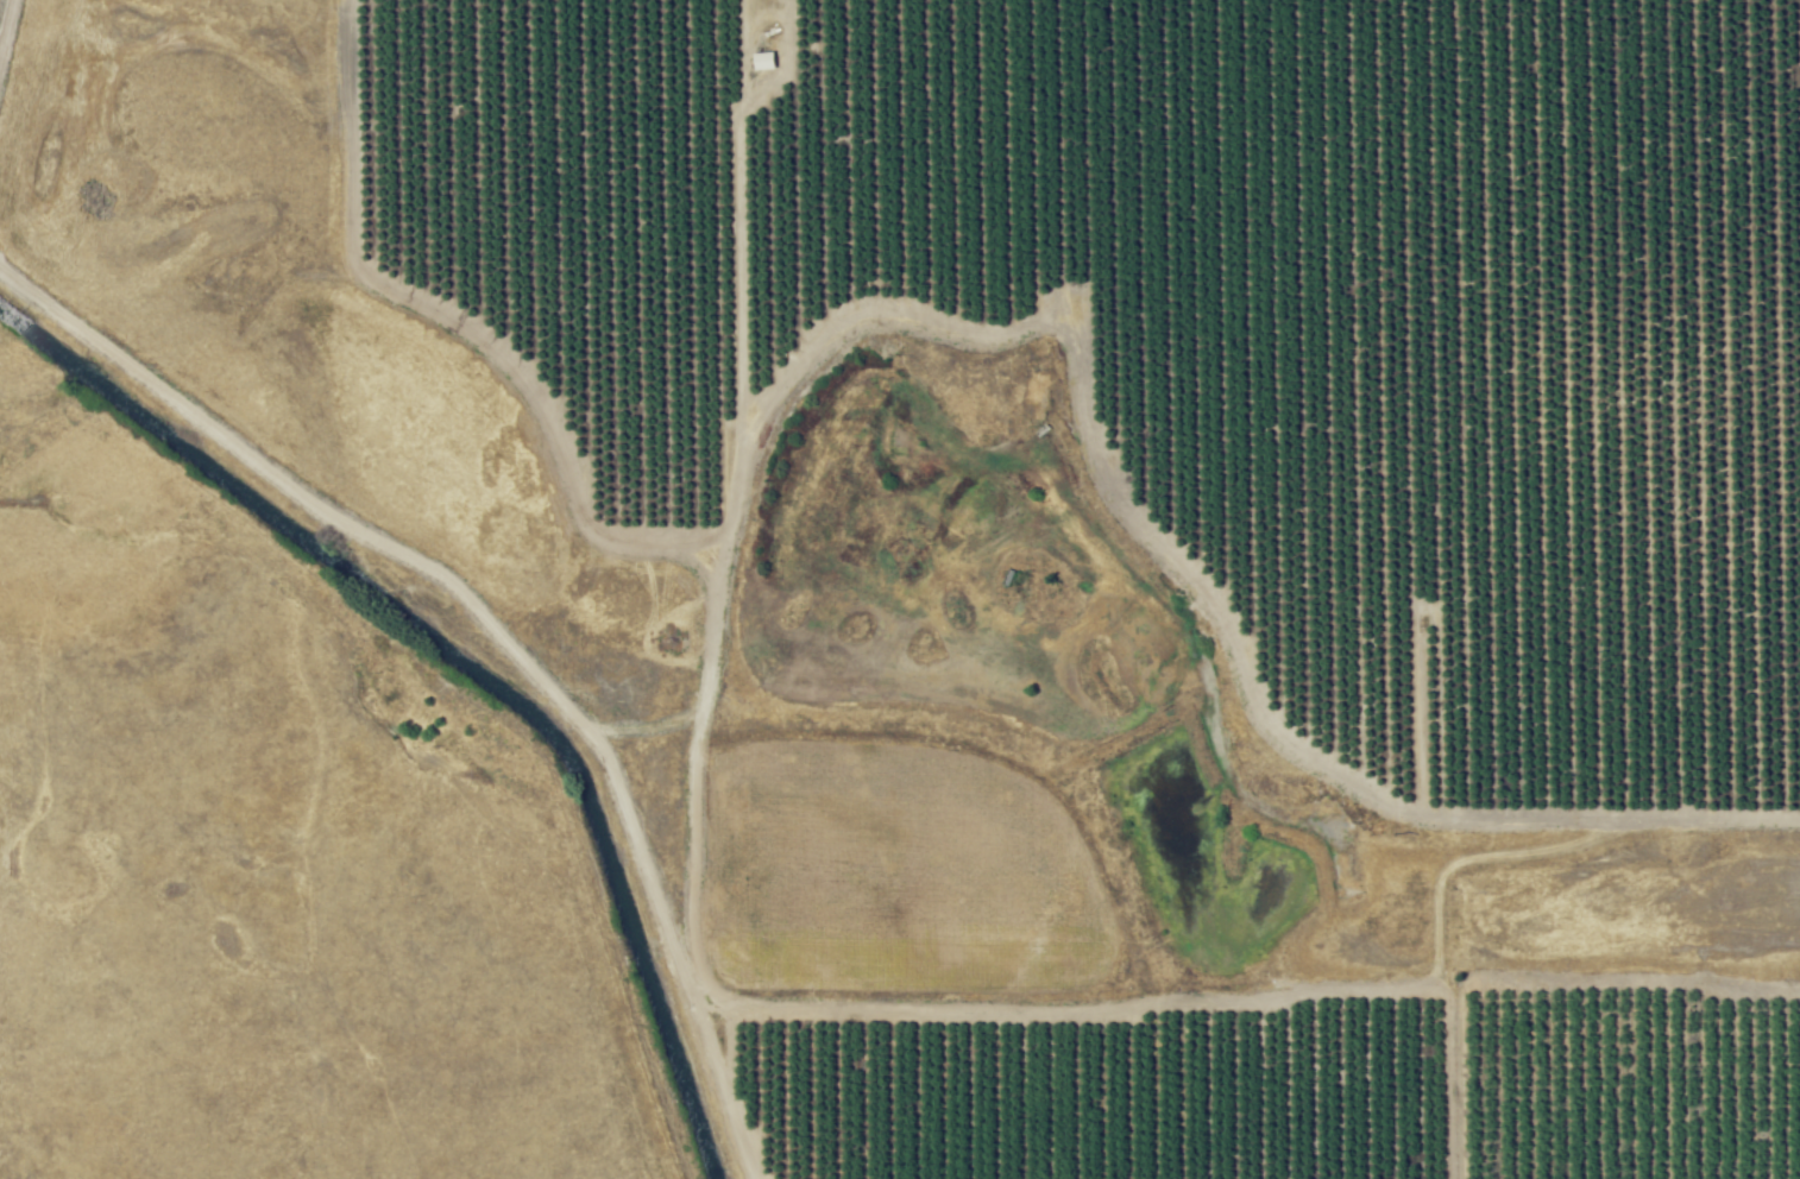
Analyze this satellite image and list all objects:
crop: (1500, 610)

